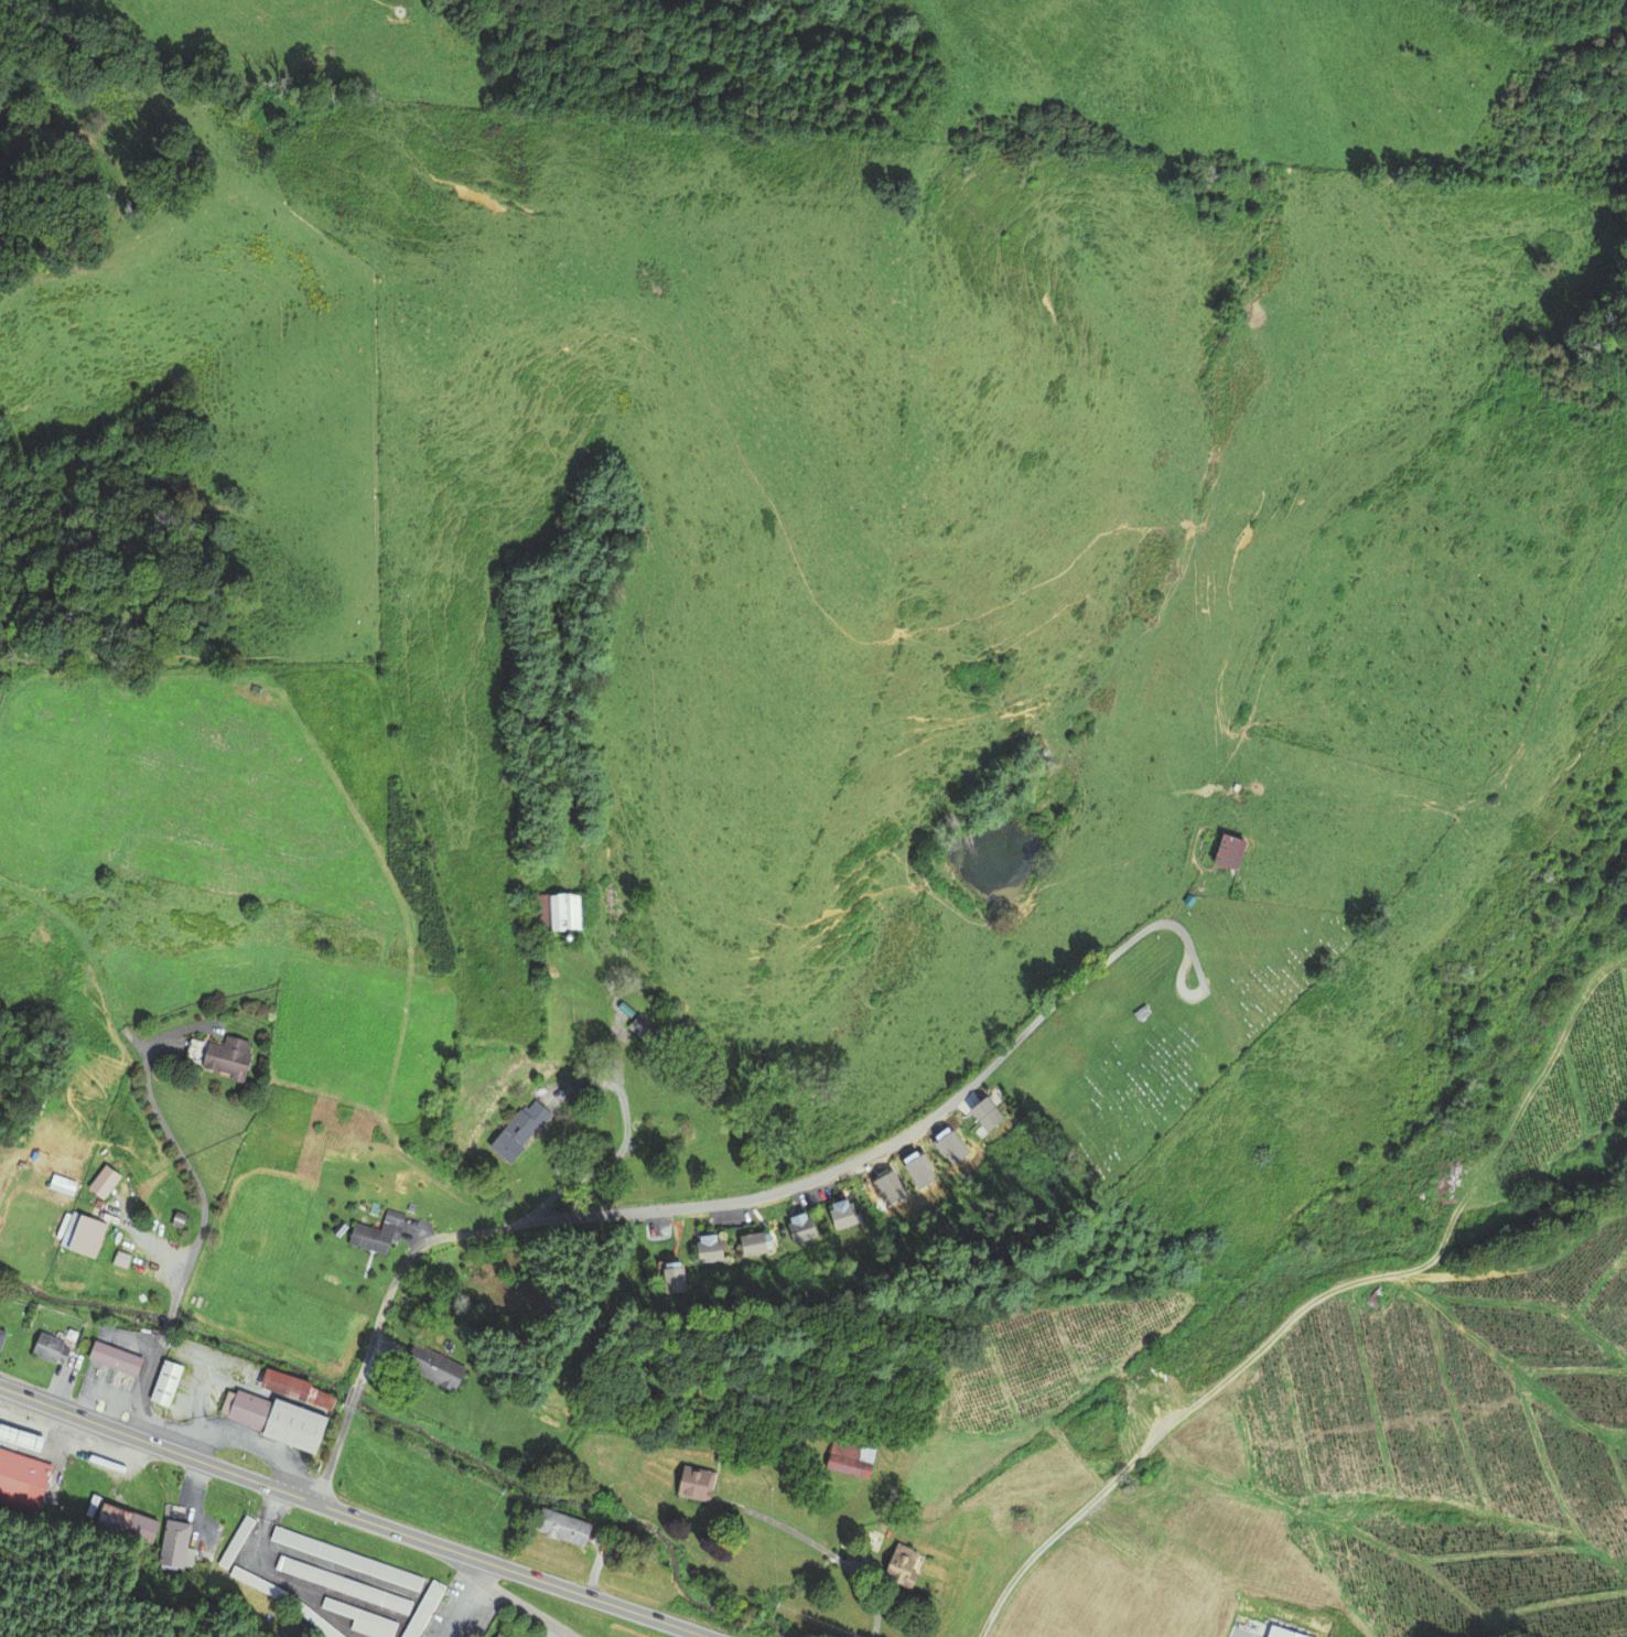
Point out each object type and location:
building: (1226, 851)
dam: (961, 887)
building: (560, 911)
road: (1179, 979)
building: (1140, 1011)
park: (1166, 1026)
building: (645, 1032)
building: (229, 1056)
road: (581, 1084)
building: (983, 1113)
building: (516, 1130)
road: (624, 1140)
building: (951, 1148)
road: (183, 1160)
building: (920, 1171)
building: (106, 1181)
road: (799, 1184)
building: (888, 1187)
building: (842, 1215)
building: (800, 1229)
building: (378, 1232)
building: (89, 1235)
building: (752, 1242)
building: (707, 1249)
building: (670, 1279)
building: (1377, 1300)
road: (166, 1322)
building: (2, 1336)
building: (49, 1346)
building: (117, 1356)
building: (435, 1365)
road: (143, 1382)
building: (166, 1382)
building: (298, 1388)
road: (354, 1394)
building: (251, 1409)
building: (295, 1425)
road: (1170, 1428)
building: (22, 1436)
gas station: (22, 1436)
road: (333, 1452)
building: (849, 1457)
building: (22, 1479)
building: (693, 1482)
road: (353, 1514)
building: (130, 1522)
building: (564, 1525)
building: (237, 1541)
building: (175, 1543)
building: (345, 1557)
building: (899, 1566)
building: (258, 1583)
building: (344, 1584)
road: (516, 1602)
building: (423, 1609)
building: (314, 1617)
building: (363, 1618)
building: (1280, 1631)
building: (500, 1635)
building: (496, 1636)

